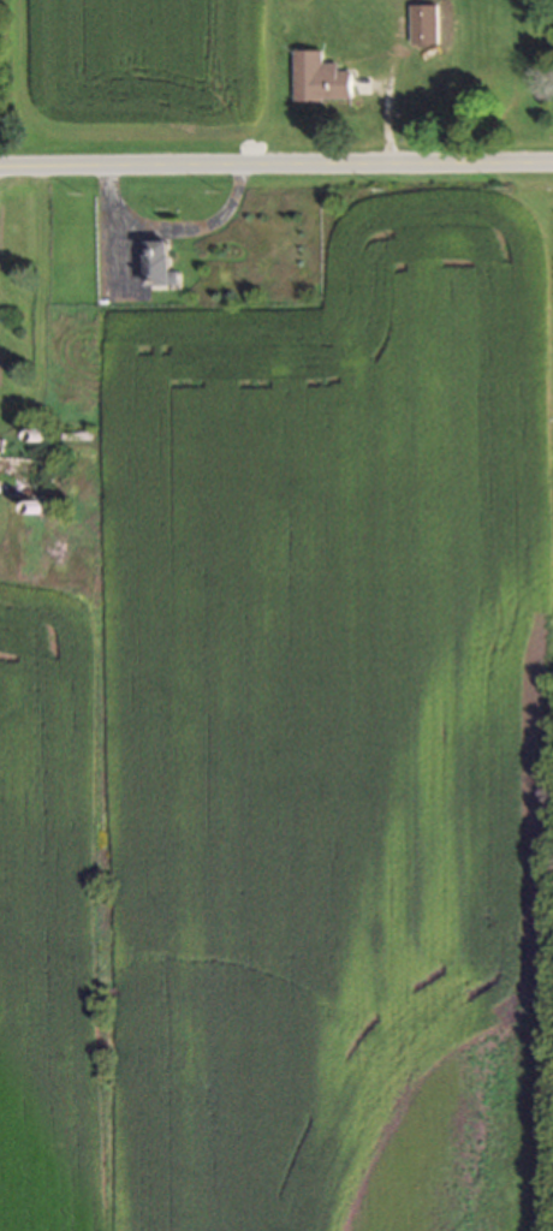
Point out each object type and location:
building: (326, 78)
road: (275, 162)
building: (165, 263)

